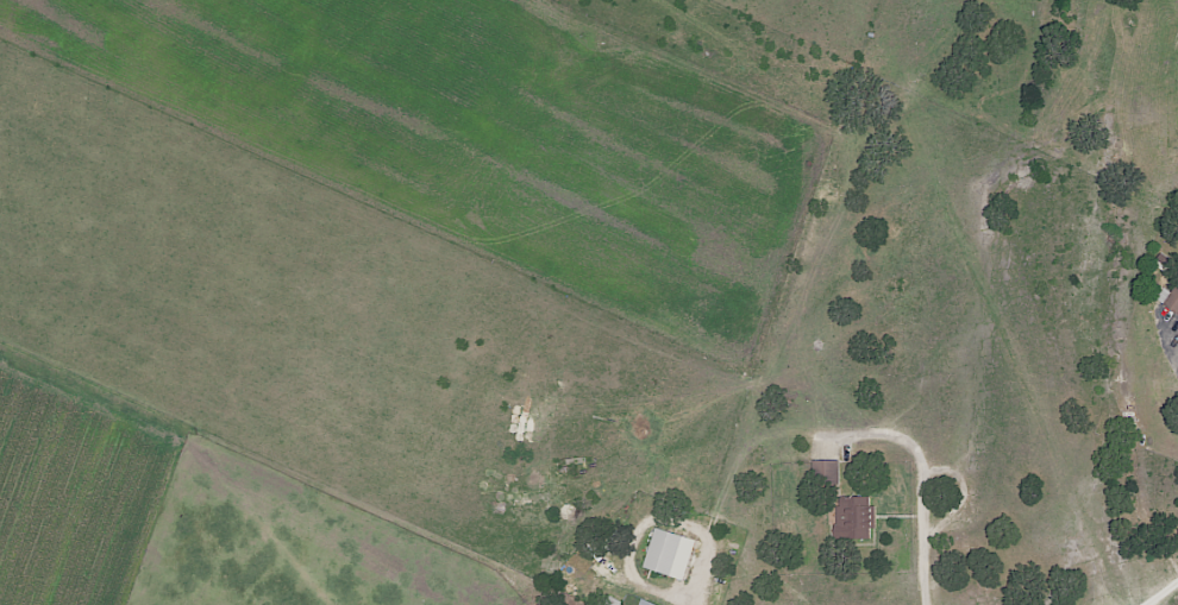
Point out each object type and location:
building: (1172, 300)
building: (827, 472)
road: (922, 480)
building: (853, 516)
building: (670, 553)
road: (1166, 594)
road: (684, 599)
building: (645, 603)

